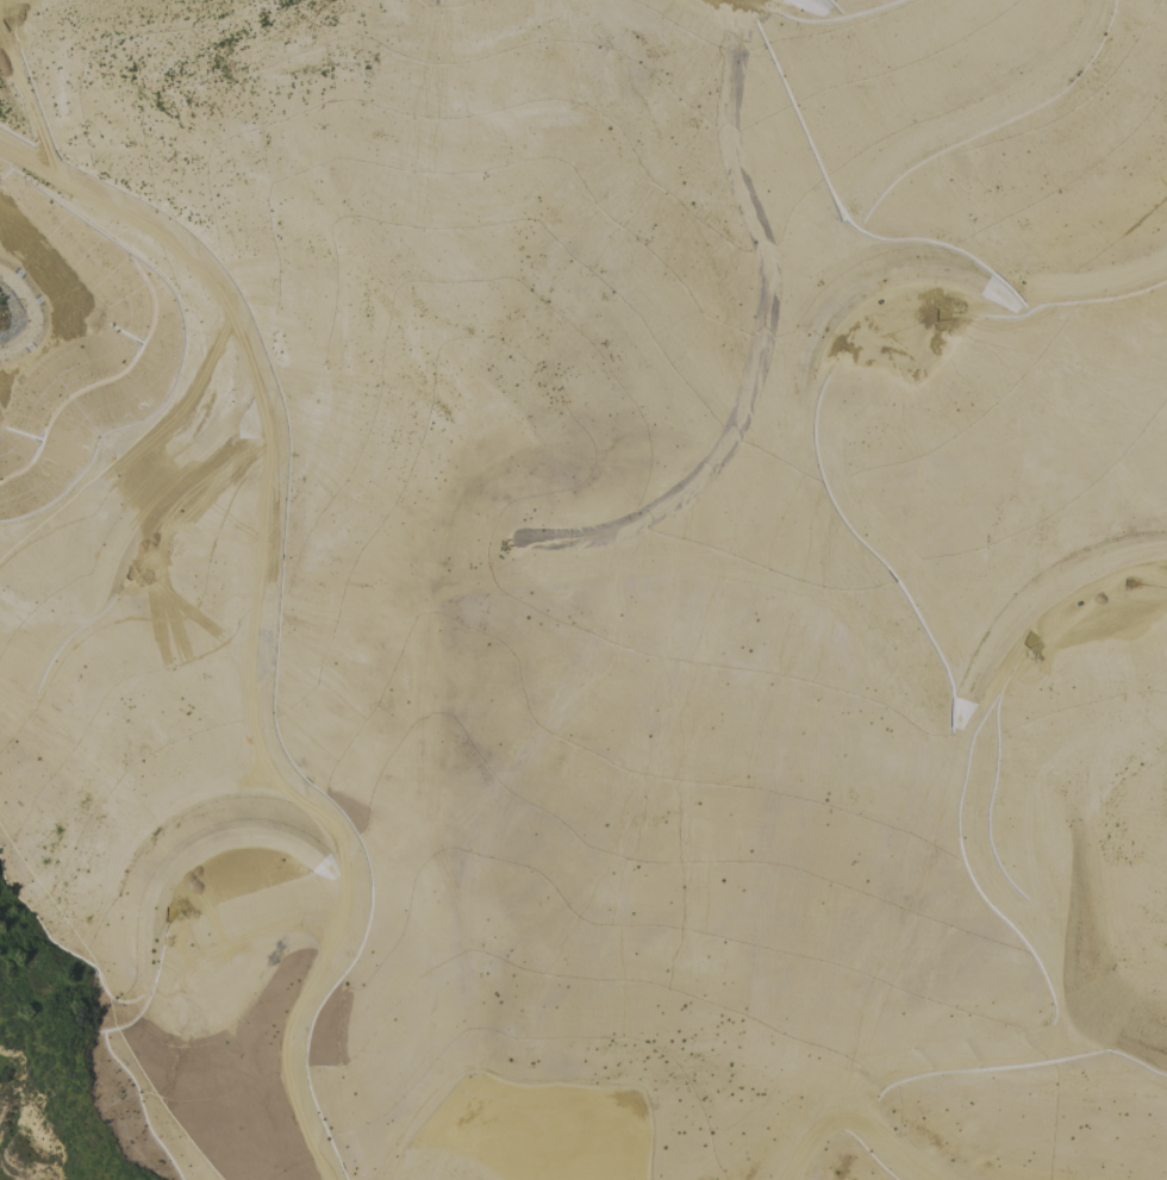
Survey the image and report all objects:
park: (692, 163)

